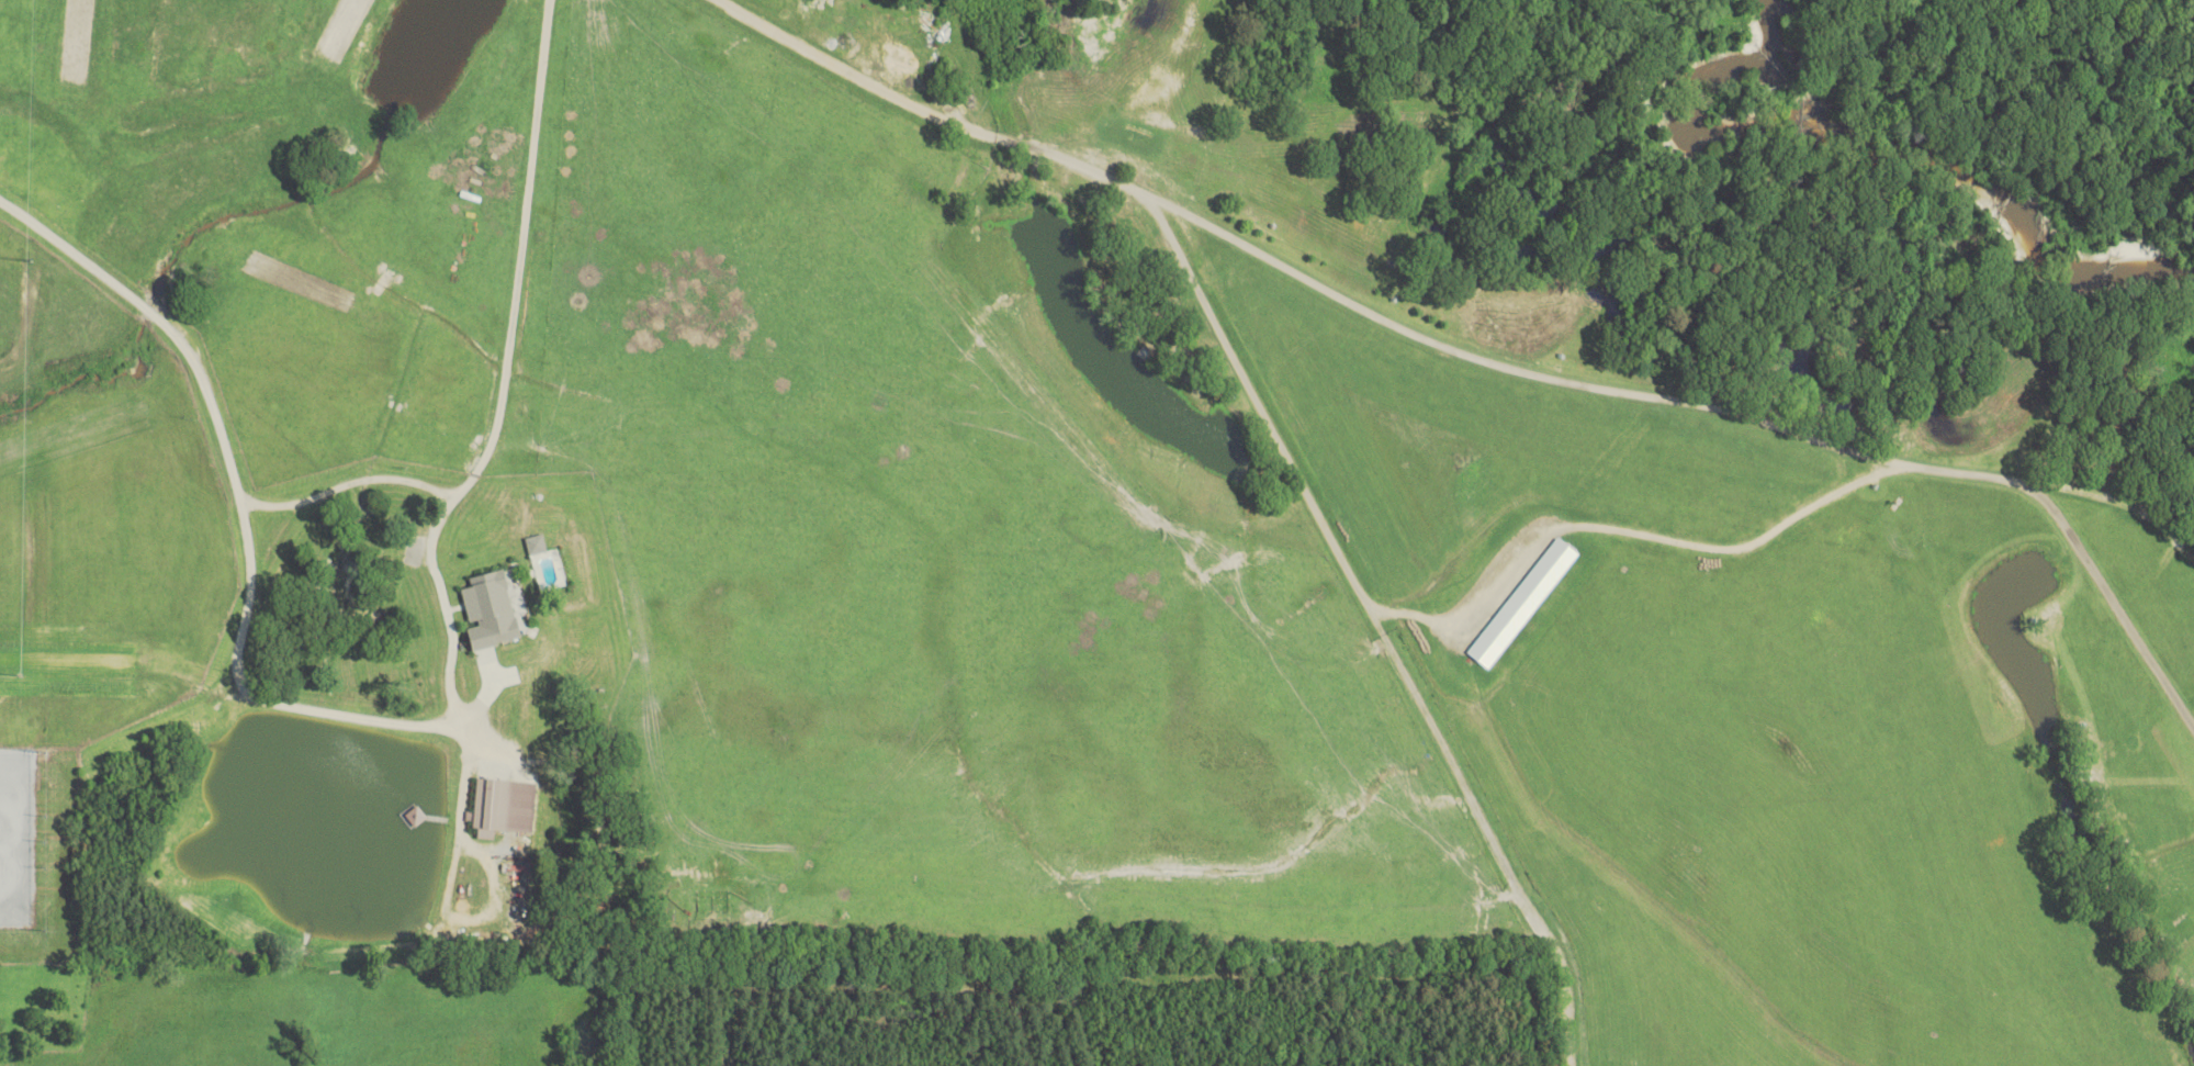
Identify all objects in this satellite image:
river: (1859, 143)
road: (1486, 361)
road: (348, 483)
road: (1622, 529)
building: (495, 610)
road: (1376, 624)
road: (419, 723)
building: (504, 808)
power substation: (16, 835)

